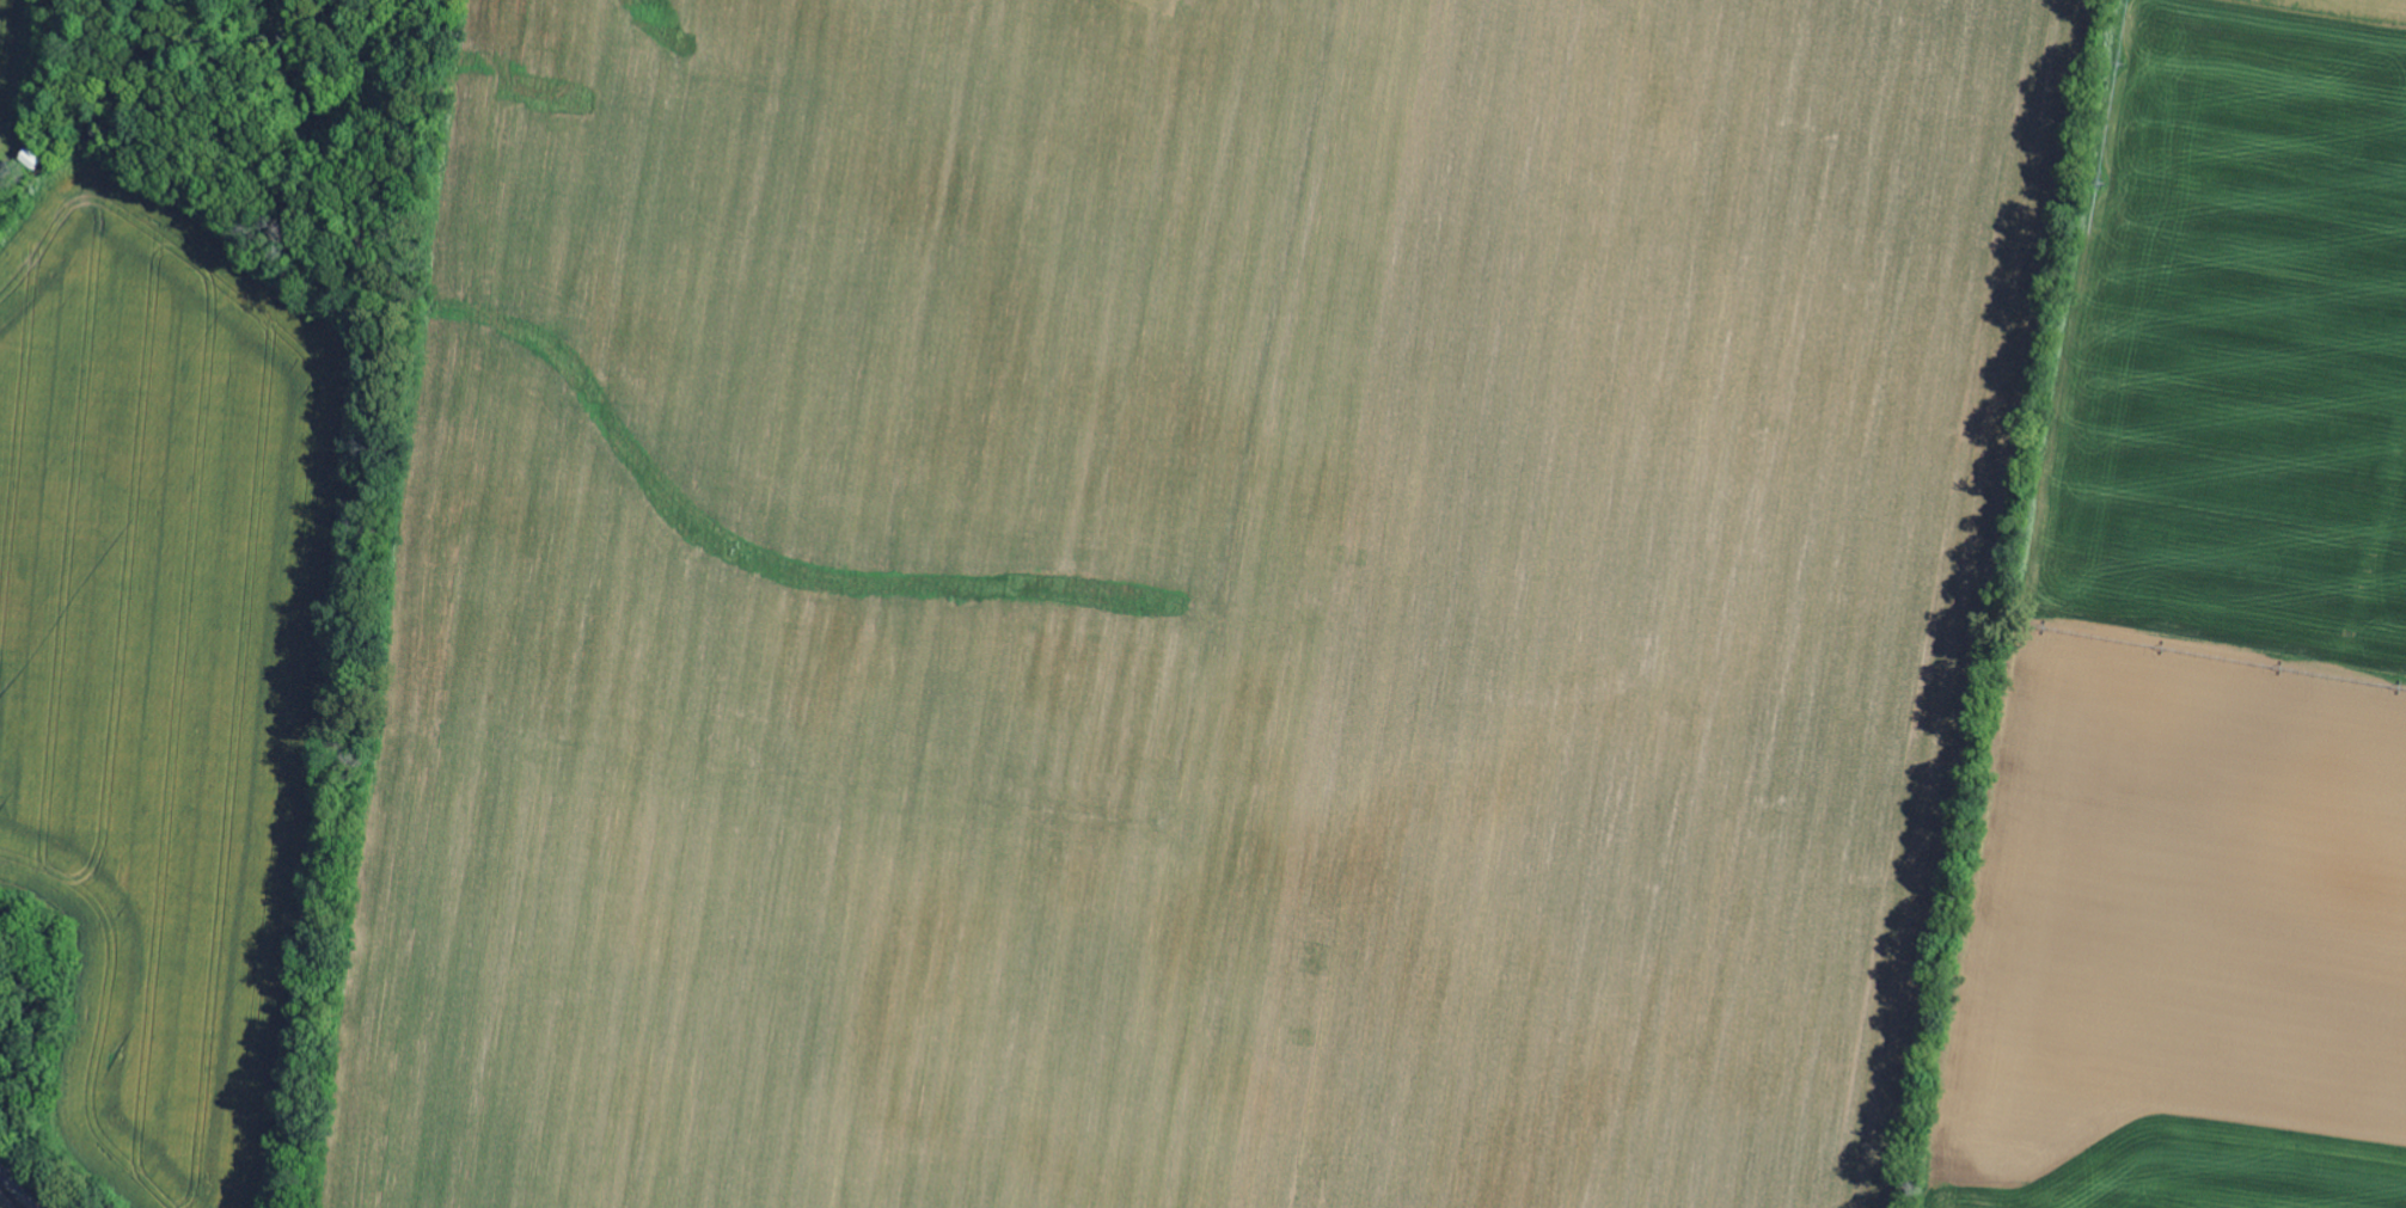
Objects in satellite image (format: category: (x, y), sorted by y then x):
river: (102, 99)
railway: (13, 1194)

